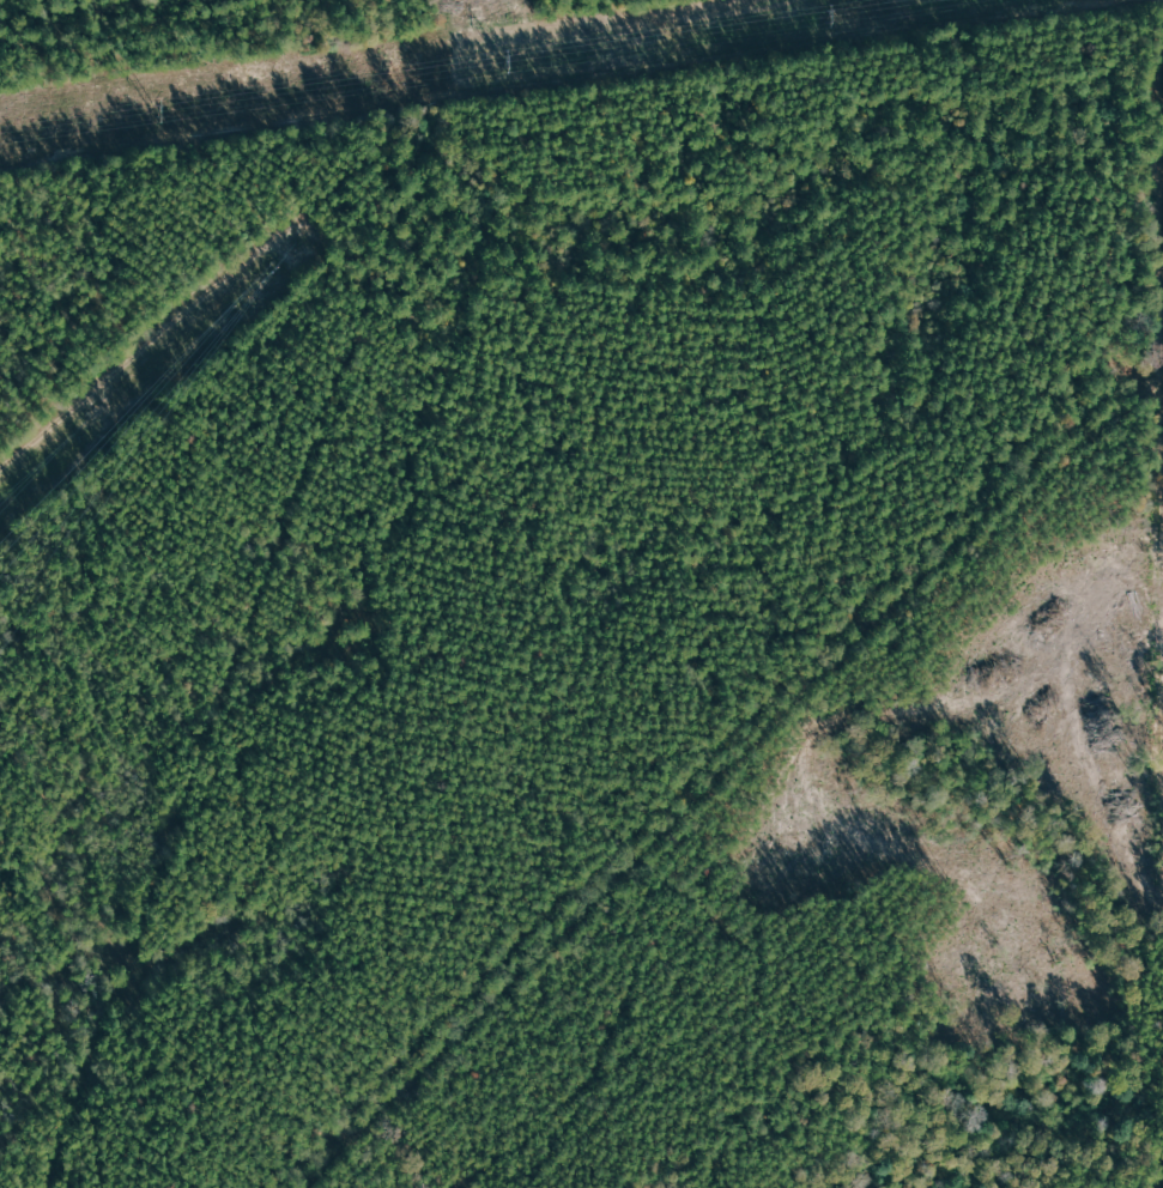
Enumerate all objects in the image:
power tower: (820, 12)
power tower: (502, 60)
power tower: (155, 109)

